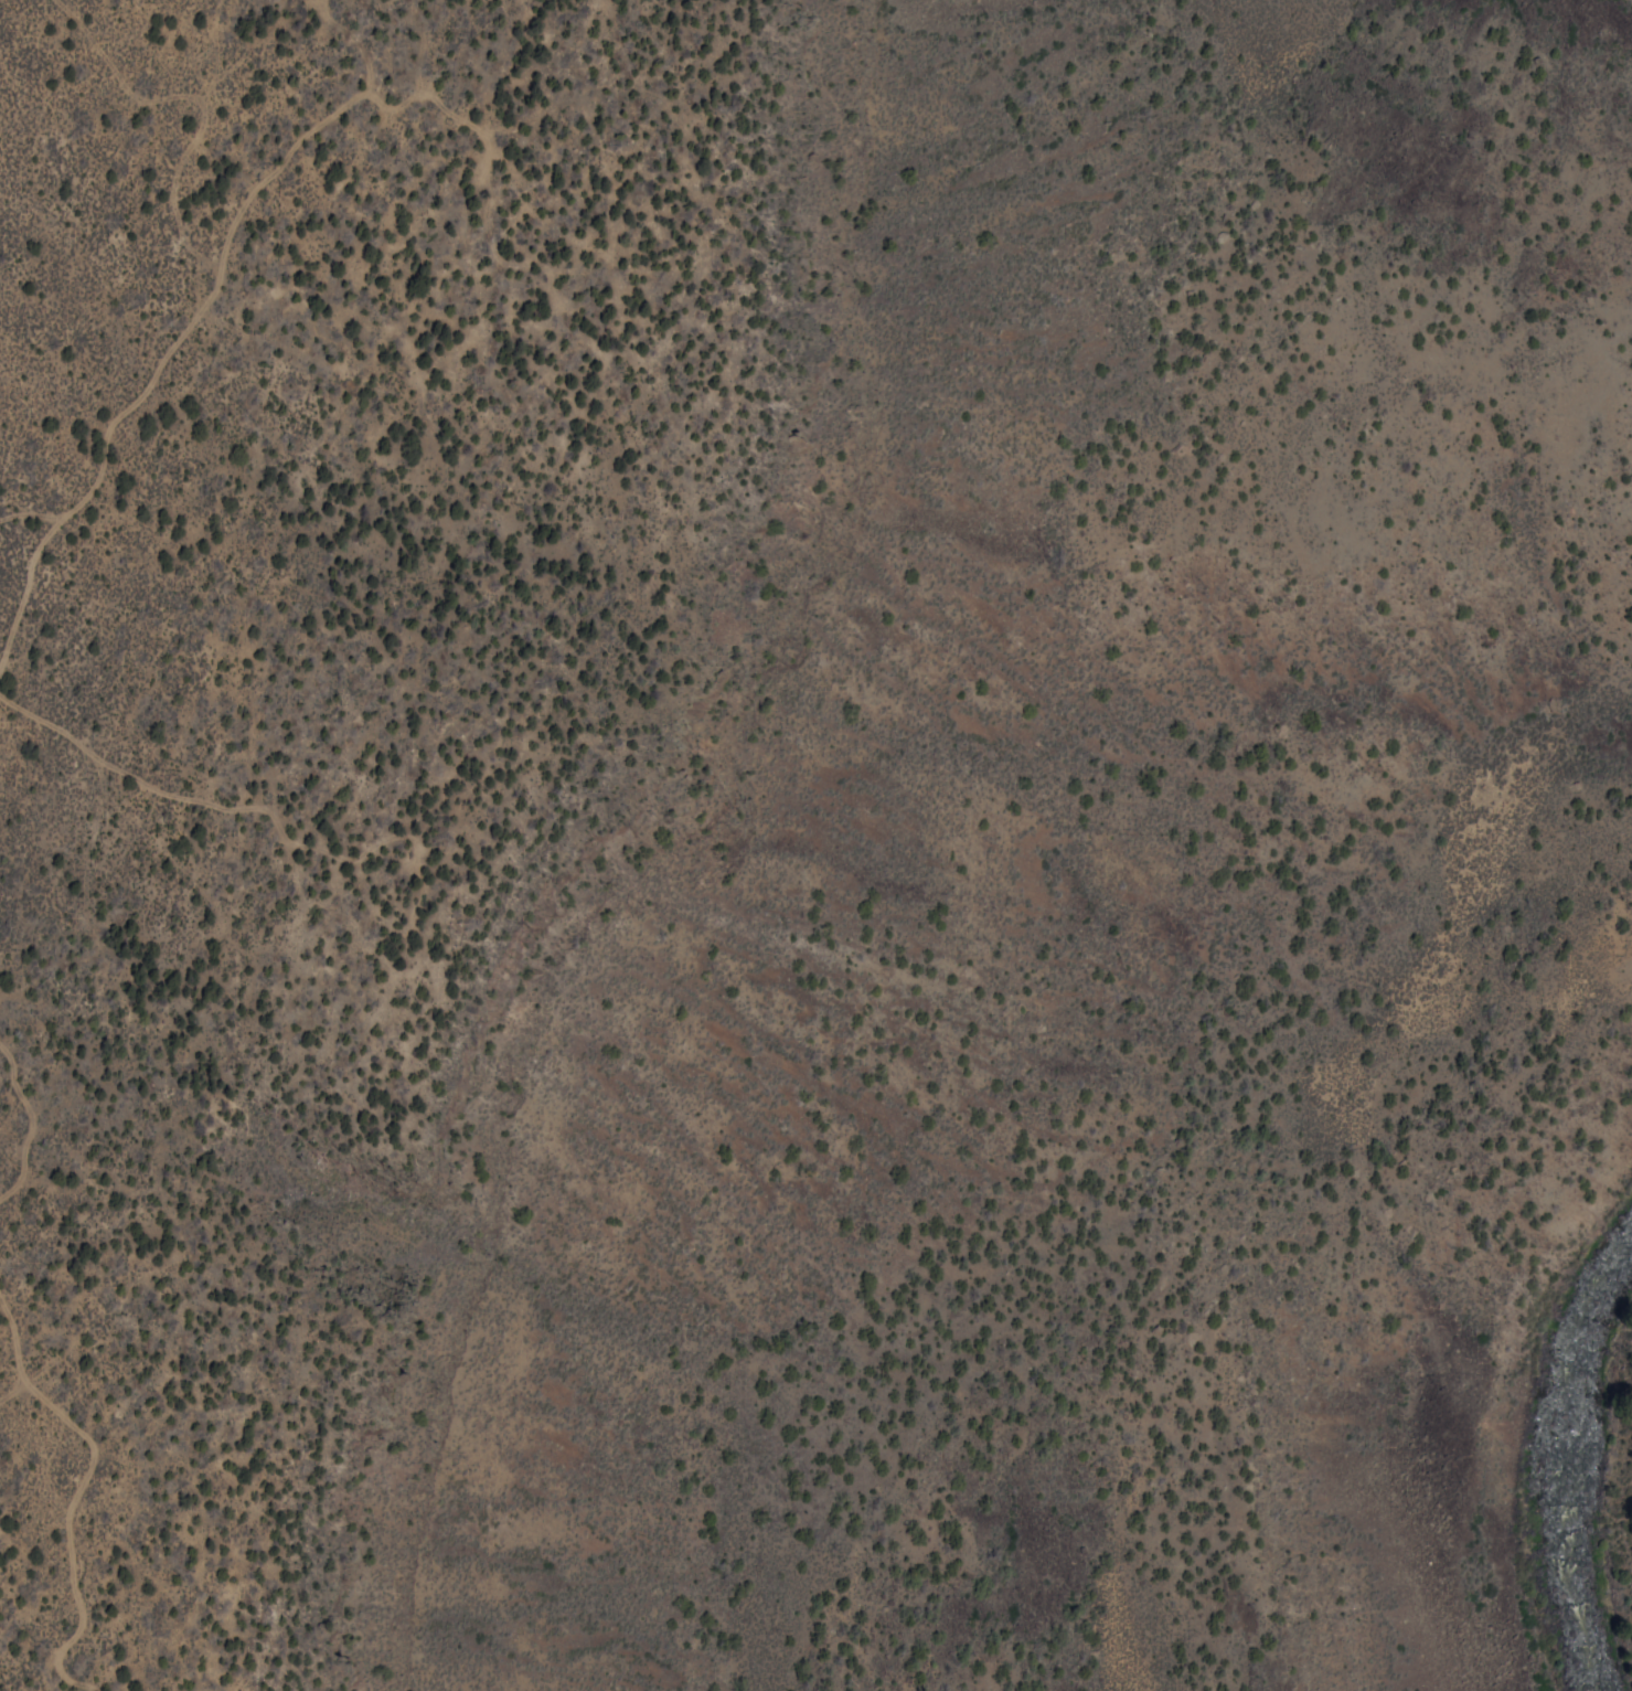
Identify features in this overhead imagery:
river: (1559, 1466)

